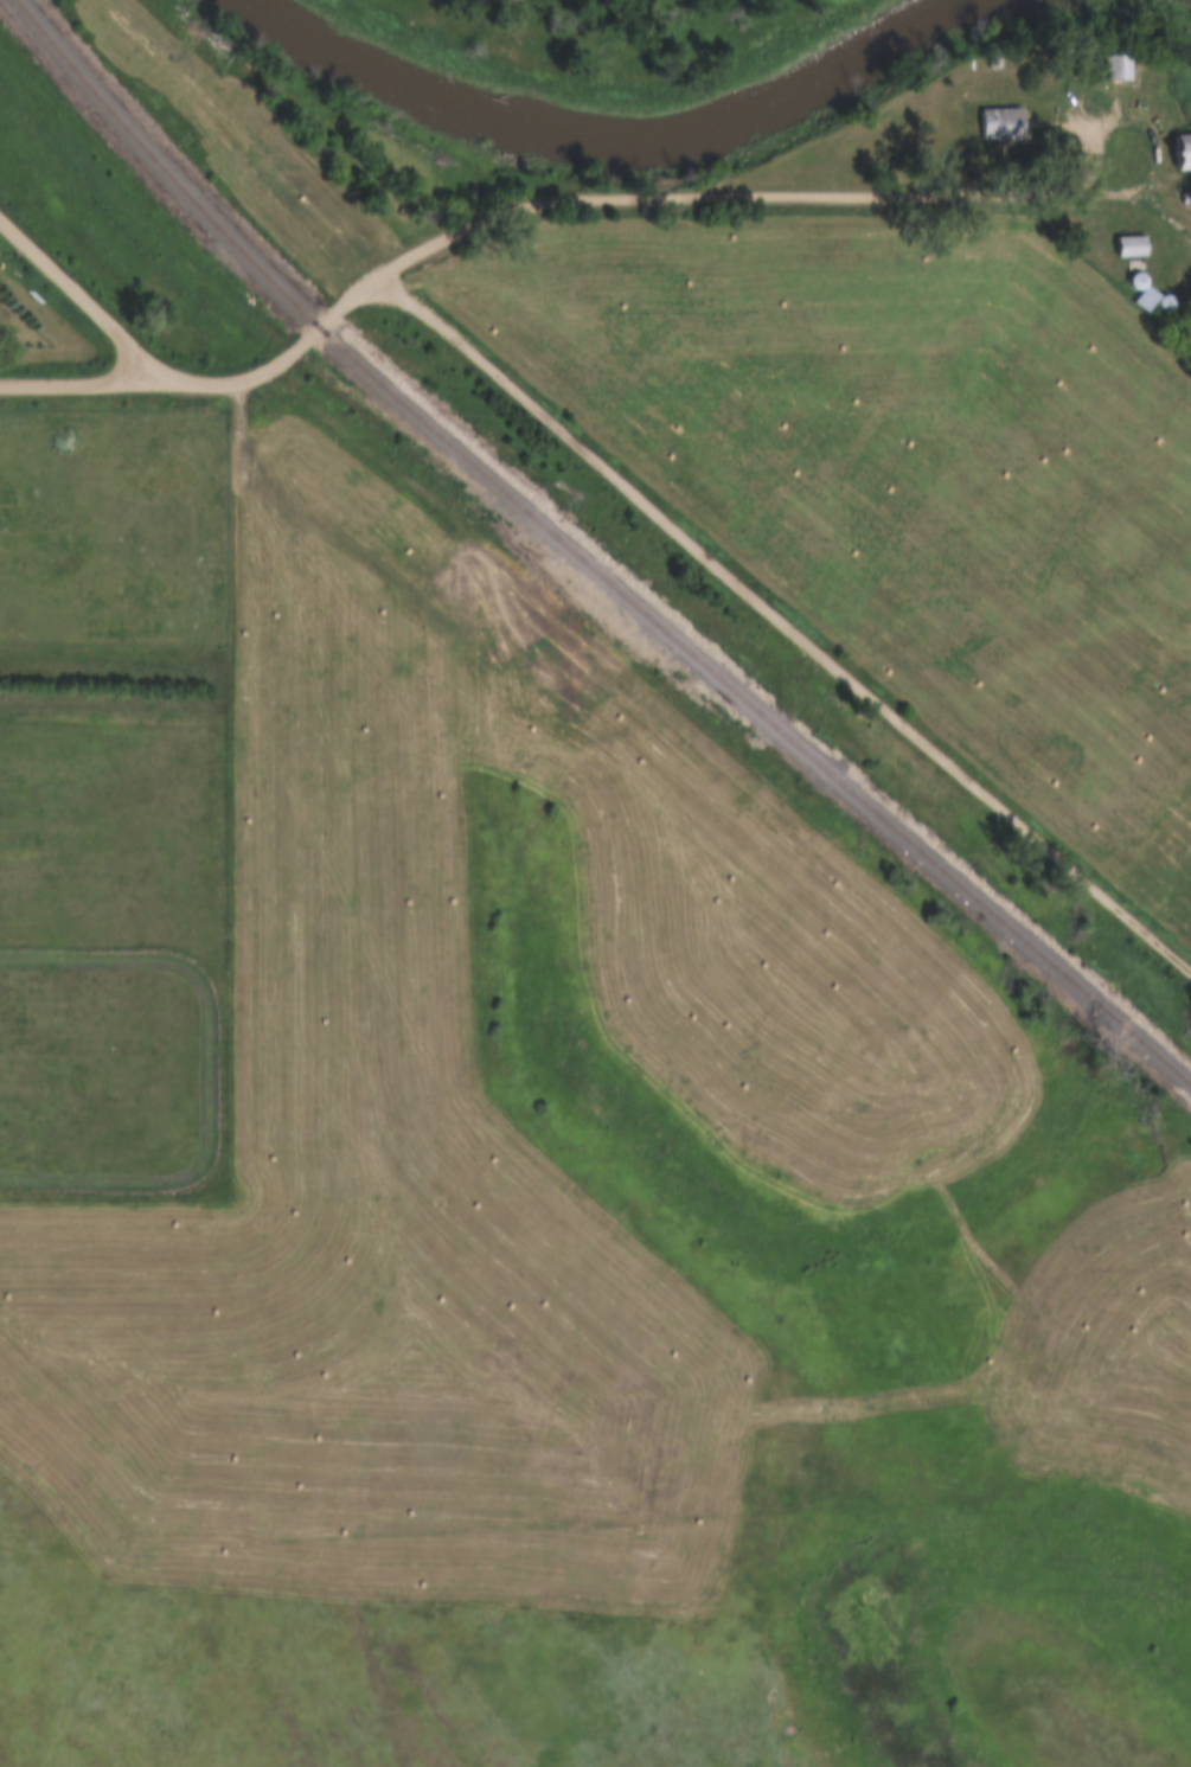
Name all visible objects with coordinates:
building: (1116, 68)
building: (1001, 124)
river: (607, 137)
building: (1184, 151)
road: (839, 194)
building: (1134, 245)
building: (1146, 292)
road: (81, 294)
road: (275, 361)
road: (78, 379)
railway: (585, 559)
road: (783, 619)

